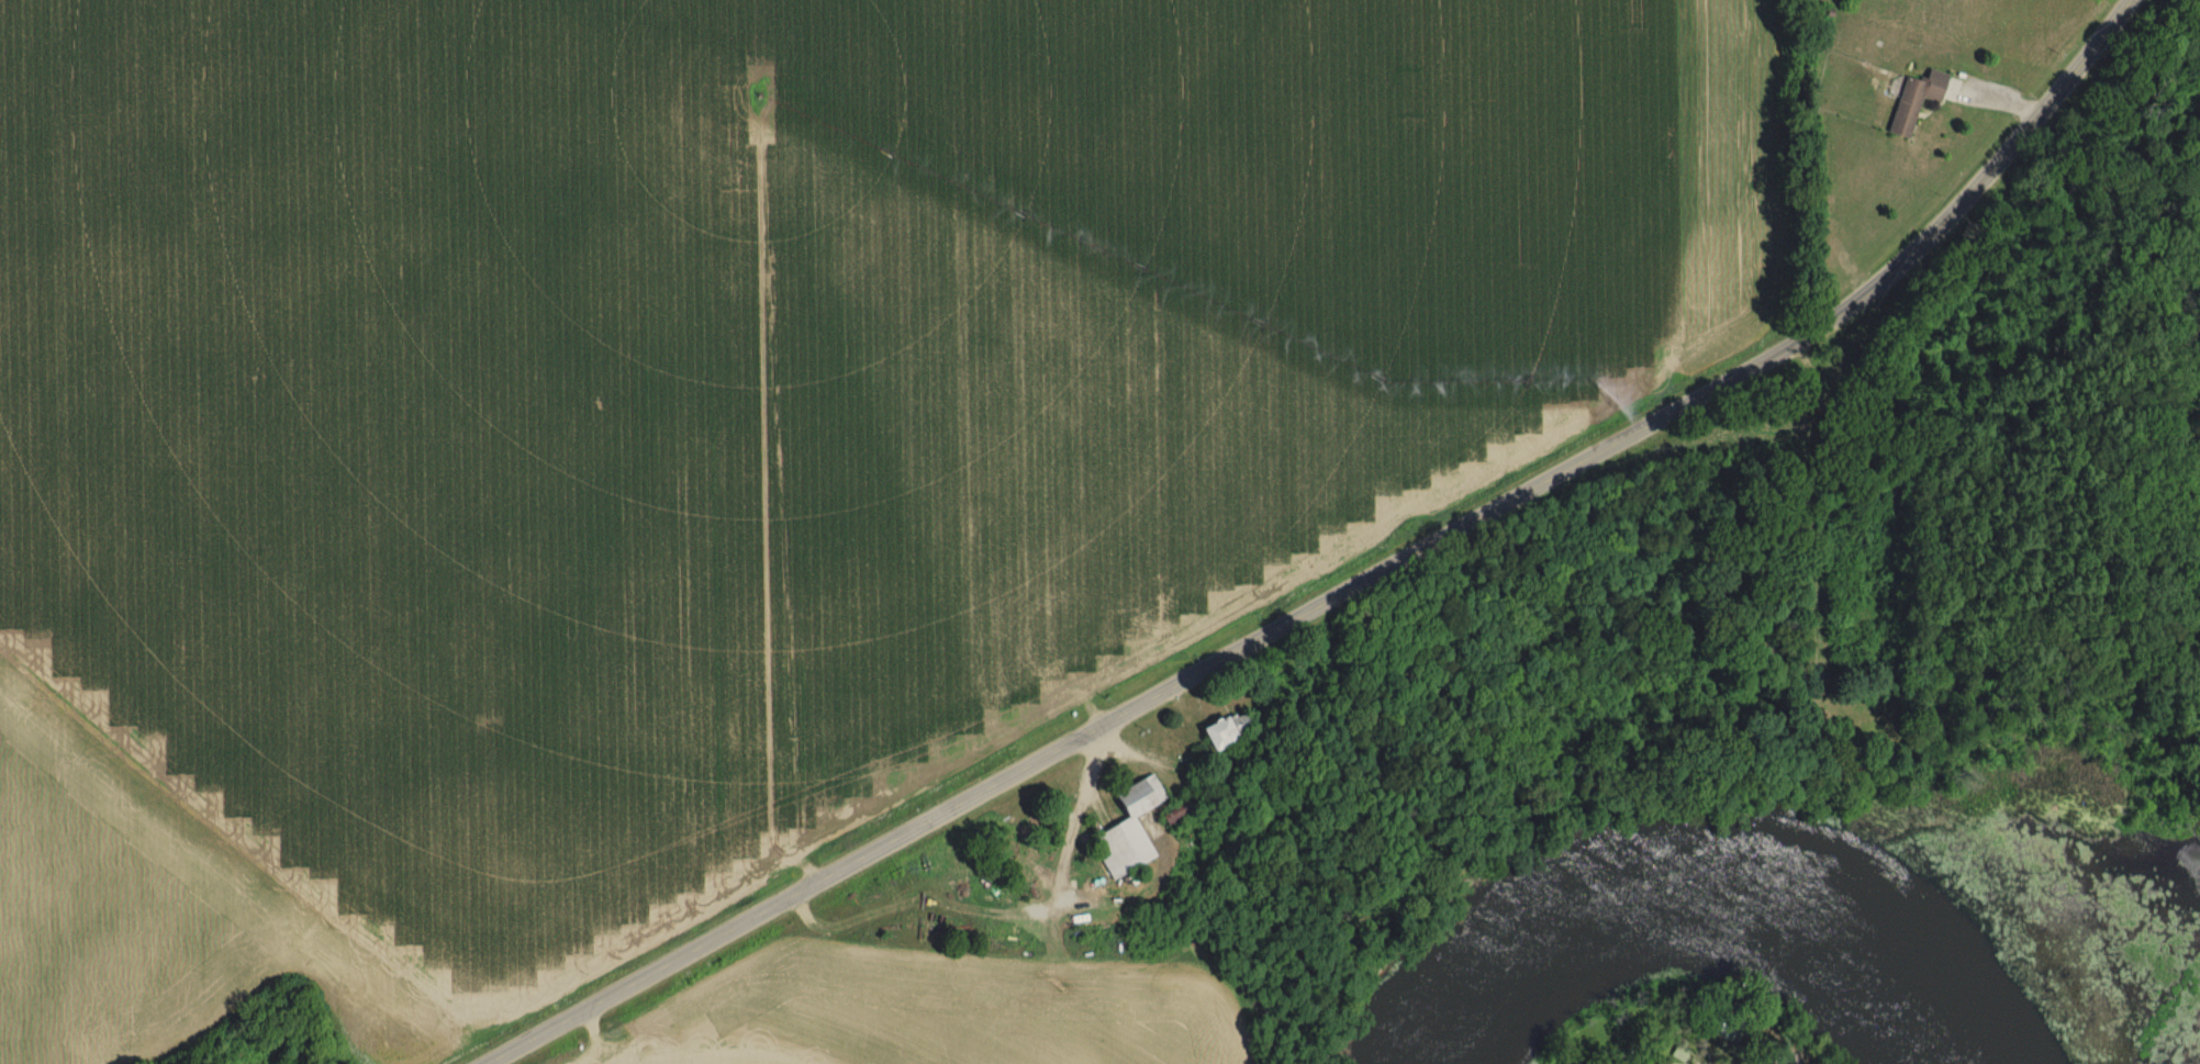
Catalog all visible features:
building: (1912, 101)
road: (1355, 591)
building: (1127, 830)
river: (1762, 895)

